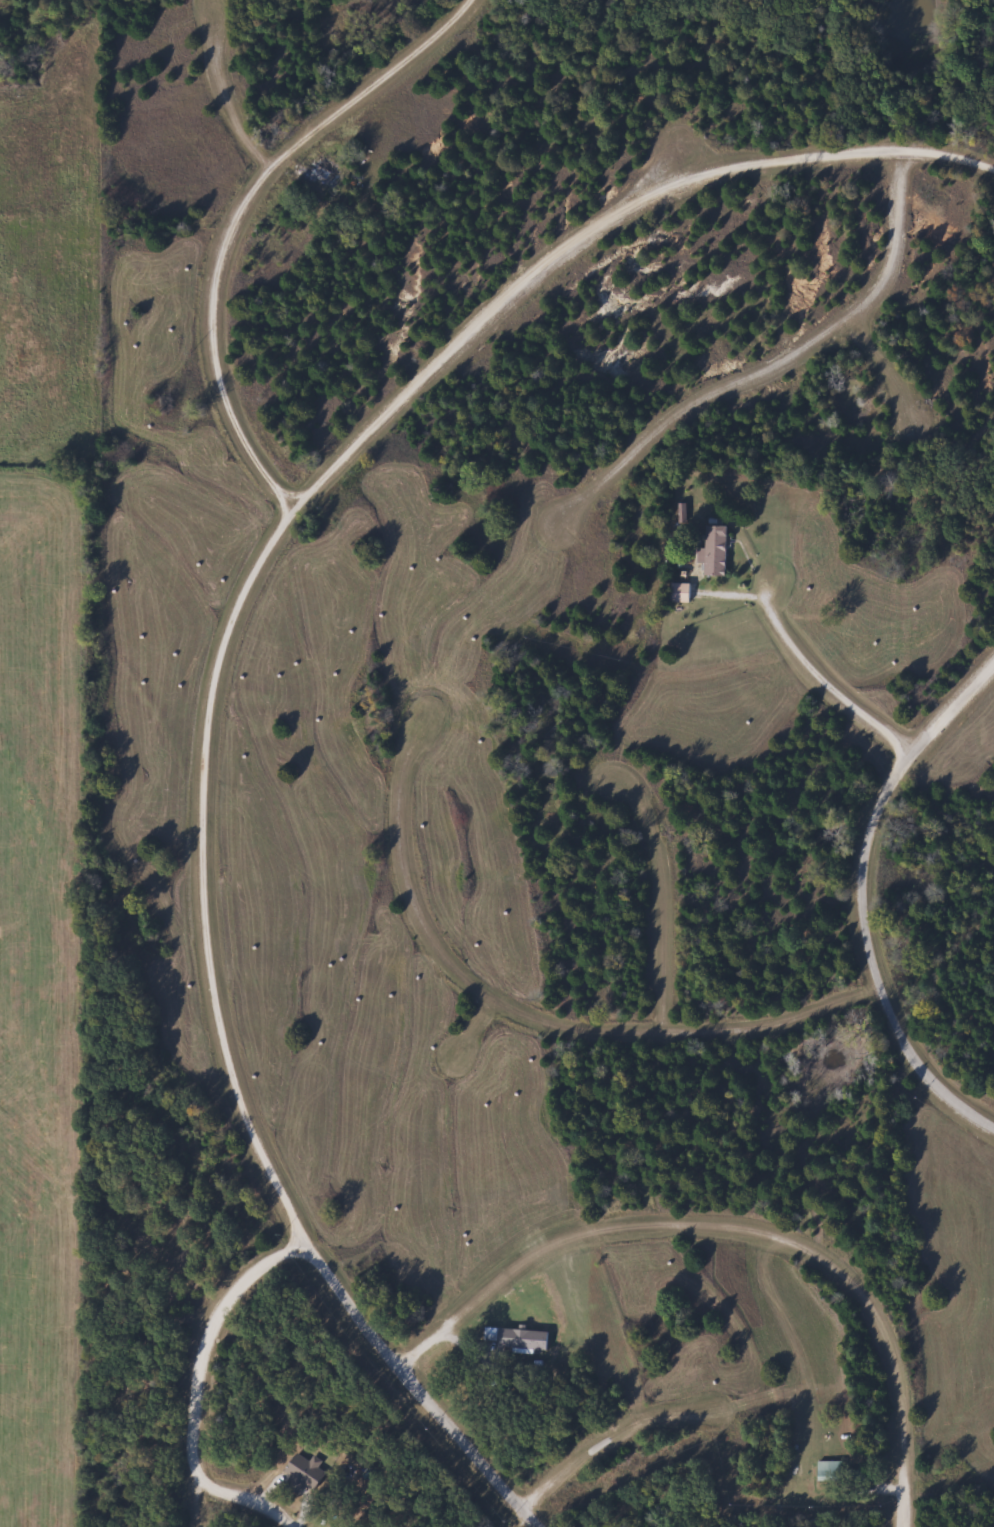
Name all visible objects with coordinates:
road: (246, 81)
road: (233, 225)
road: (812, 370)
road: (921, 372)
building: (716, 551)
building: (681, 592)
road: (220, 644)
road: (804, 658)
road: (867, 896)
road: (664, 906)
road: (535, 1004)
road: (504, 1048)
road: (512, 1269)
road: (863, 1300)
building: (516, 1337)
road: (203, 1355)
road: (635, 1452)
building: (830, 1471)
building: (303, 1473)
road: (265, 1509)
road: (237, 1511)

